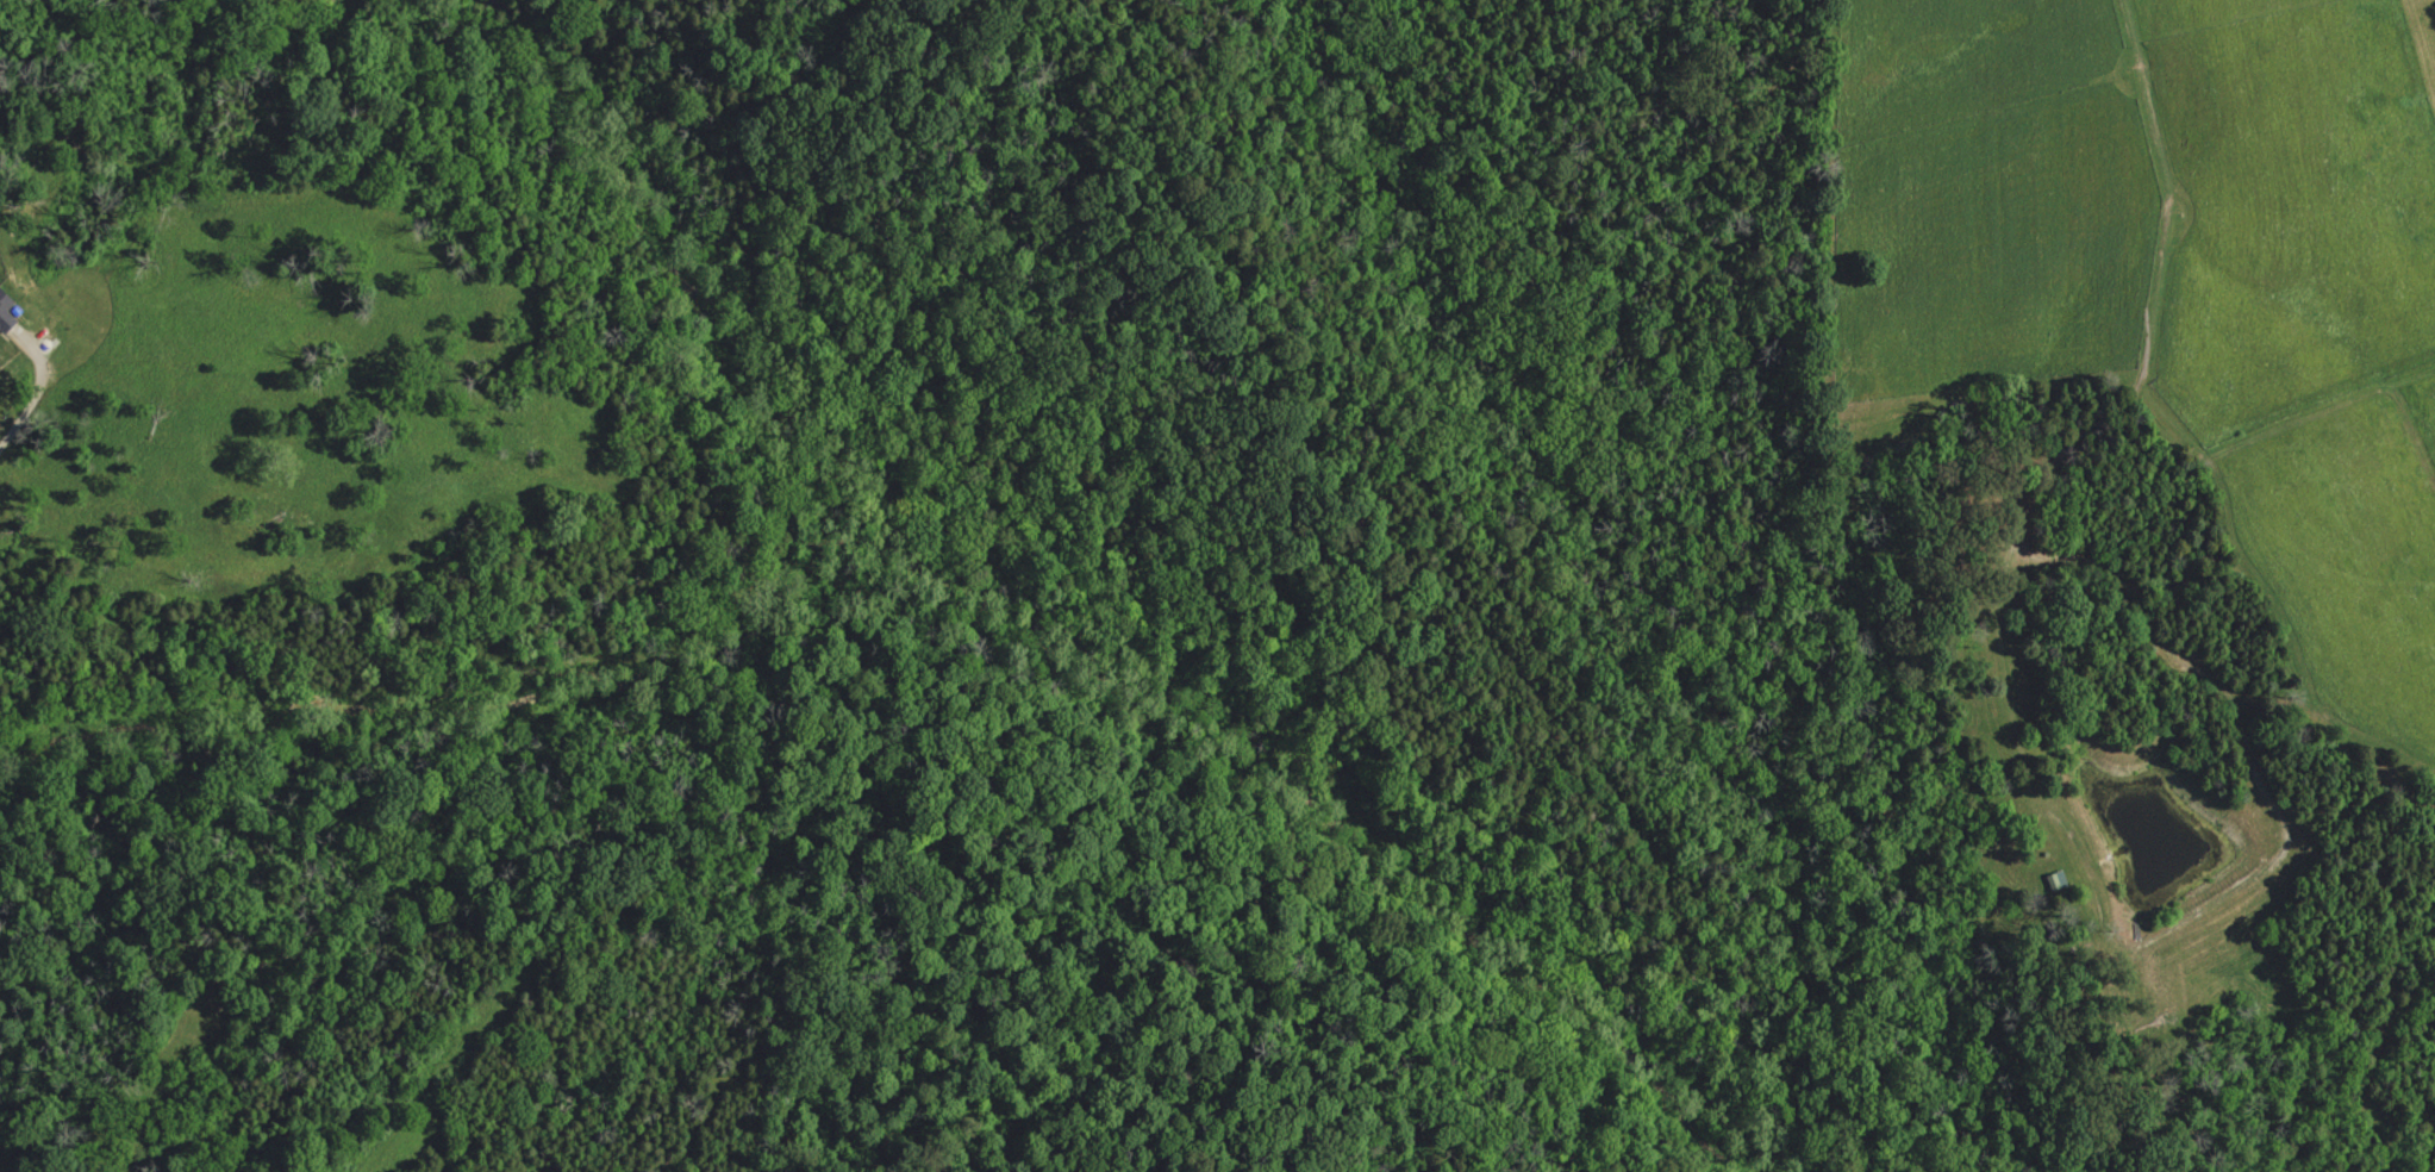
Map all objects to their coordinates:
building: (8, 310)
road: (33, 395)
road: (2106, 422)

